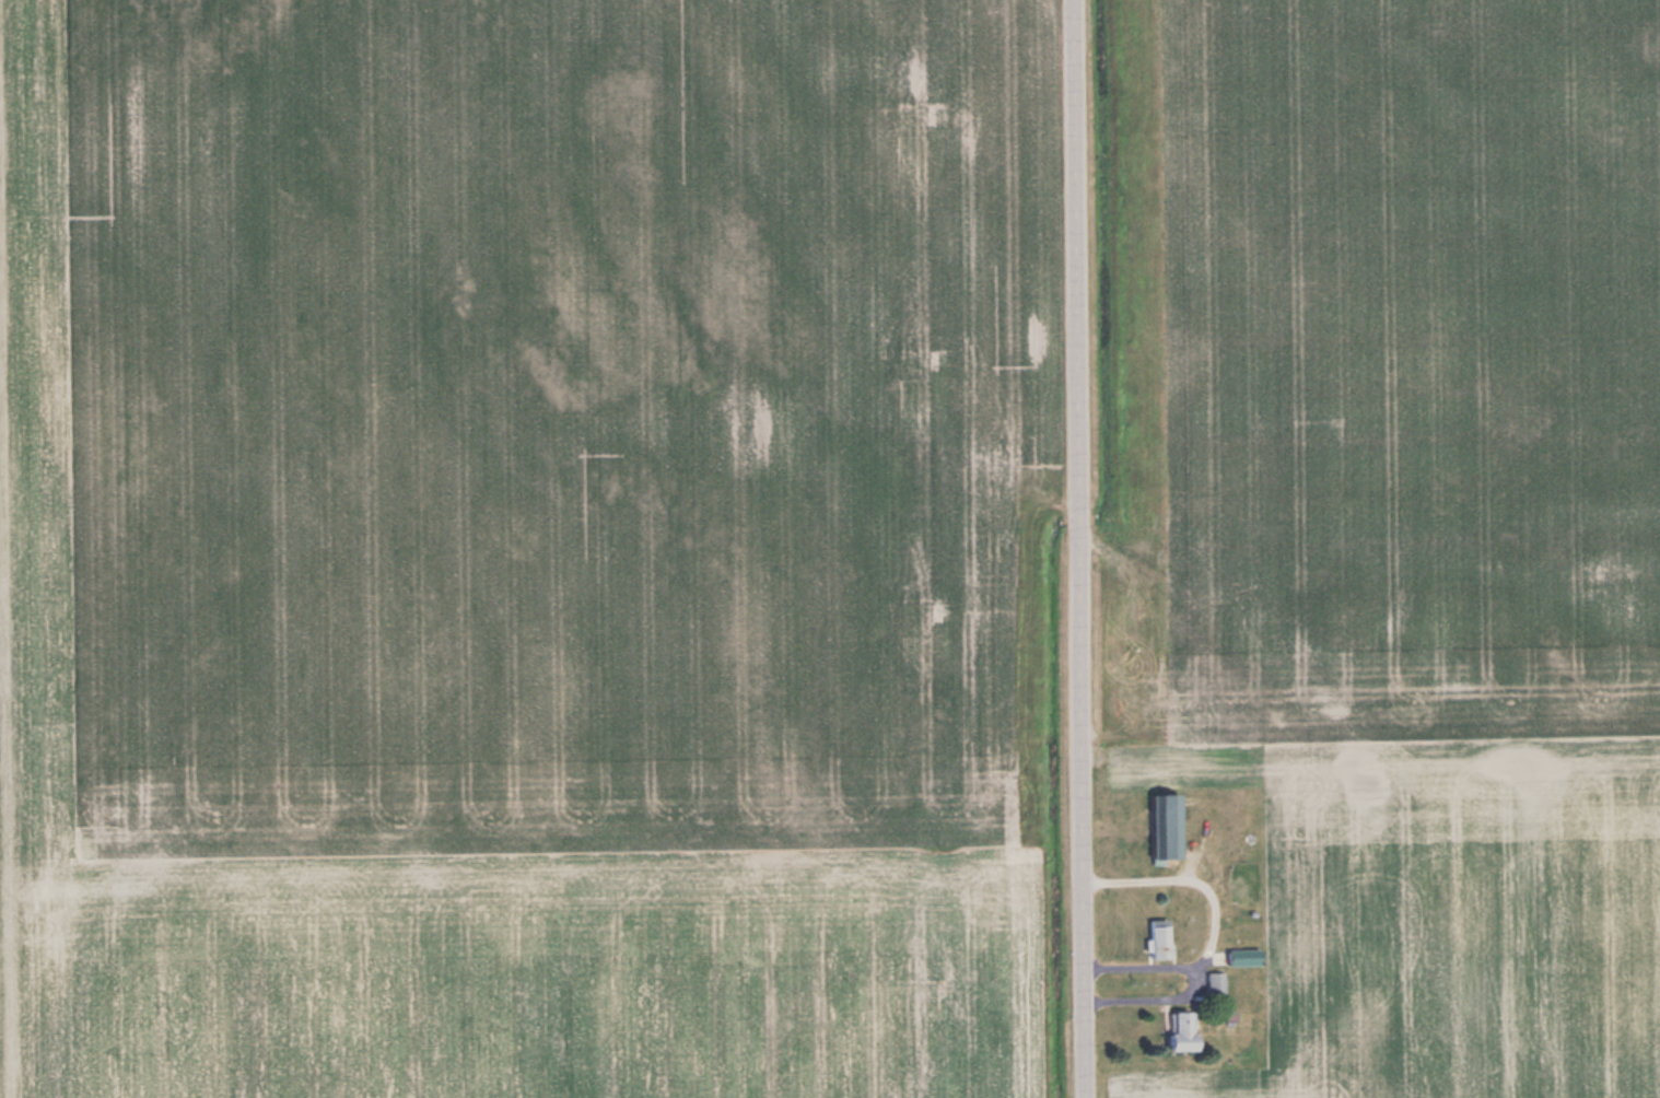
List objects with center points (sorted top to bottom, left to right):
road: (1082, 548)
building: (1167, 825)
building: (1160, 936)
building: (1216, 981)
building: (1185, 1030)

